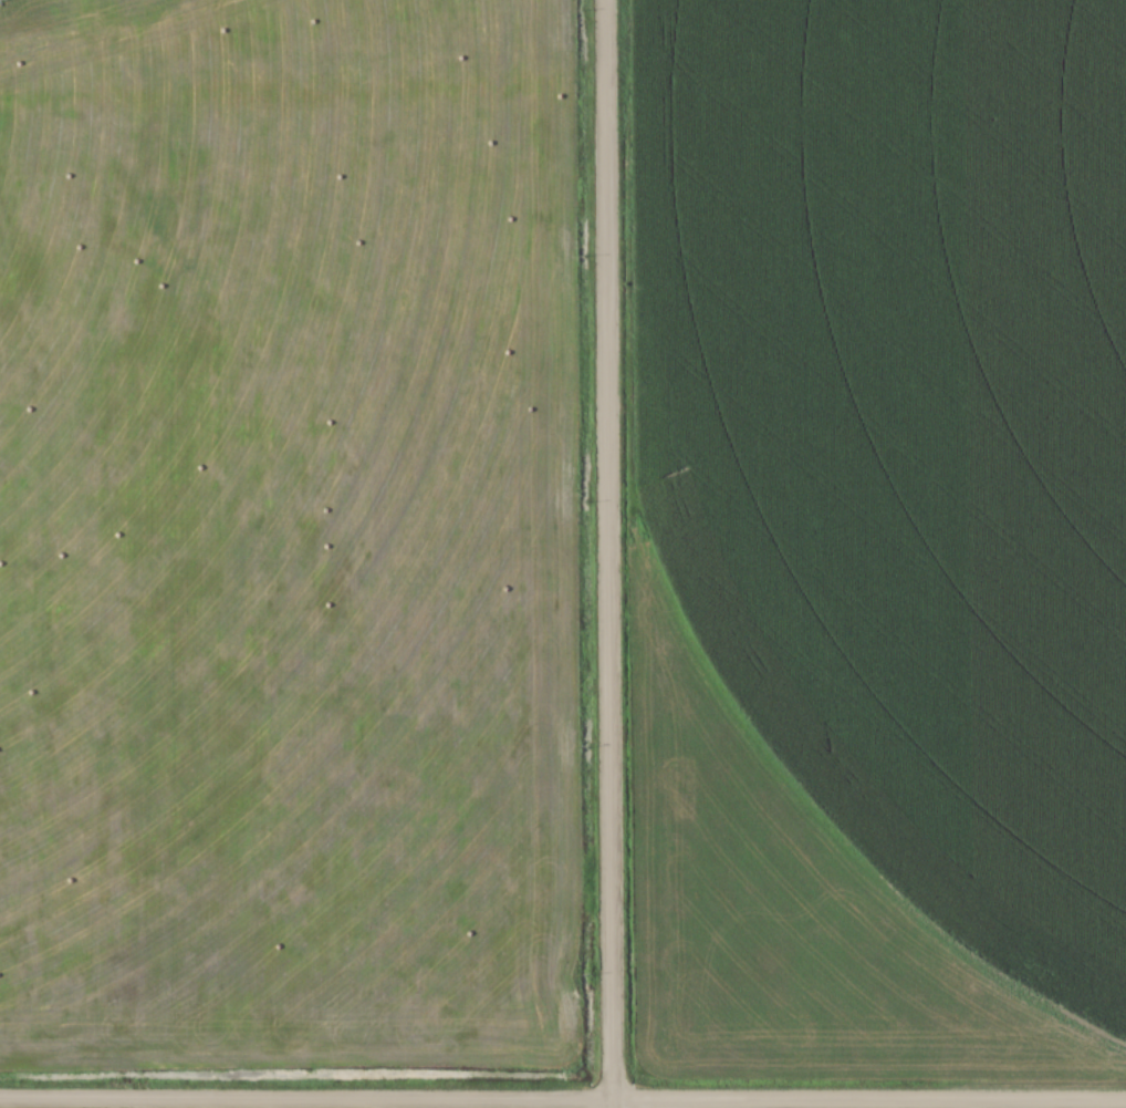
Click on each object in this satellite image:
road: (604, 553)
road: (563, 1099)

